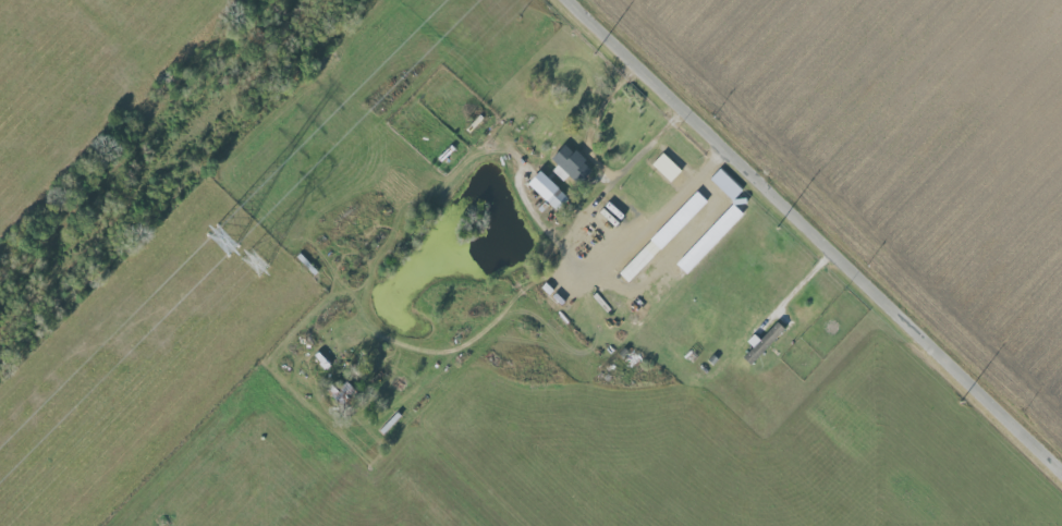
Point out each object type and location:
road: (598, 118)
railway: (151, 155)
building: (569, 163)
building: (666, 167)
building: (725, 183)
building: (547, 189)
road: (819, 232)
power tower: (222, 243)
power tower: (255, 264)
road: (565, 276)
road: (797, 288)
building: (764, 343)
building: (346, 388)

